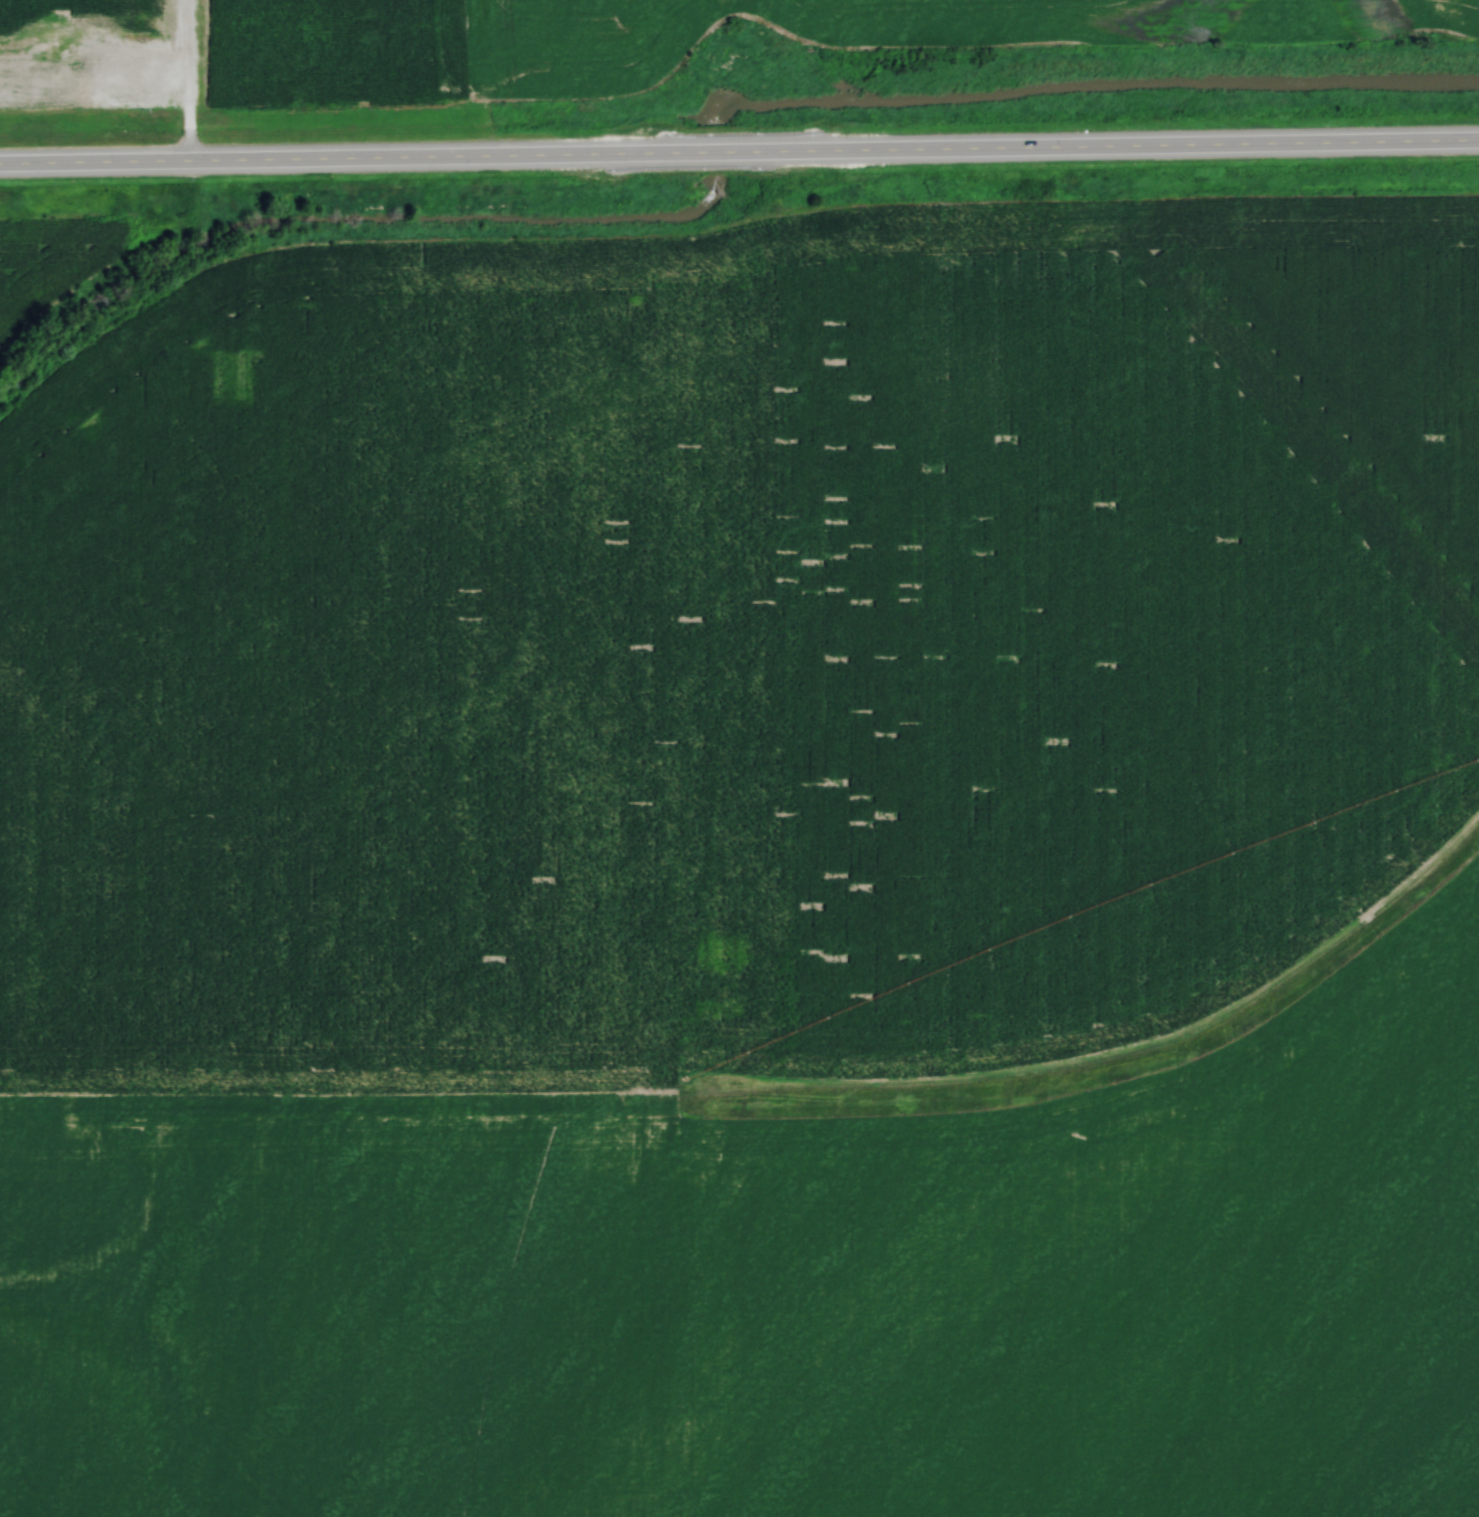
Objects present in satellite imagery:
road: (185, 94)
road: (739, 154)

